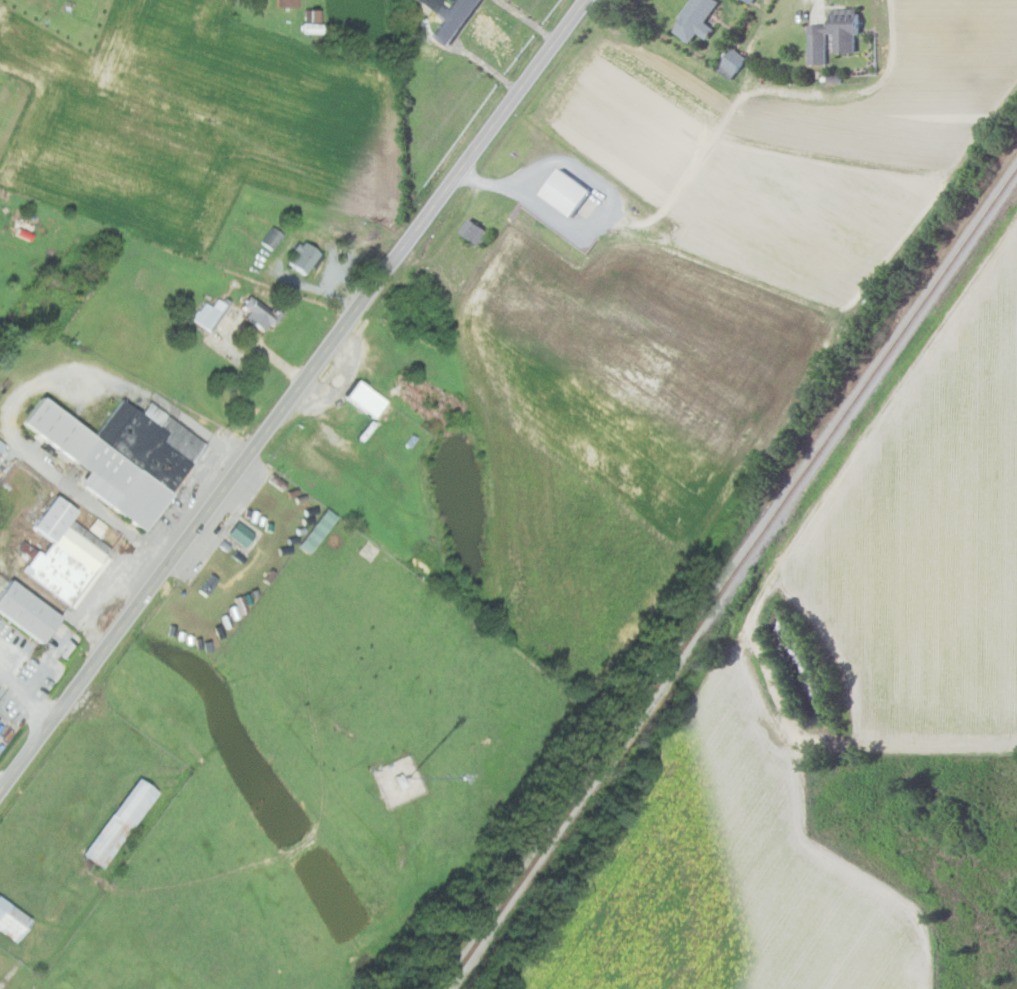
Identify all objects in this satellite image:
building: (285, 3)
building: (448, 16)
building: (694, 19)
road: (526, 21)
building: (843, 43)
building: (730, 63)
road: (486, 71)
road: (523, 190)
building: (563, 192)
building: (473, 232)
building: (302, 258)
building: (259, 314)
road: (20, 389)
road: (294, 398)
building: (364, 398)
building: (1, 445)
building: (120, 454)
road: (801, 498)
building: (316, 529)
building: (239, 533)
building: (63, 554)
railway: (728, 577)
building: (25, 611)
road: (27, 694)
road: (0, 793)
building: (118, 823)
building: (11, 921)

